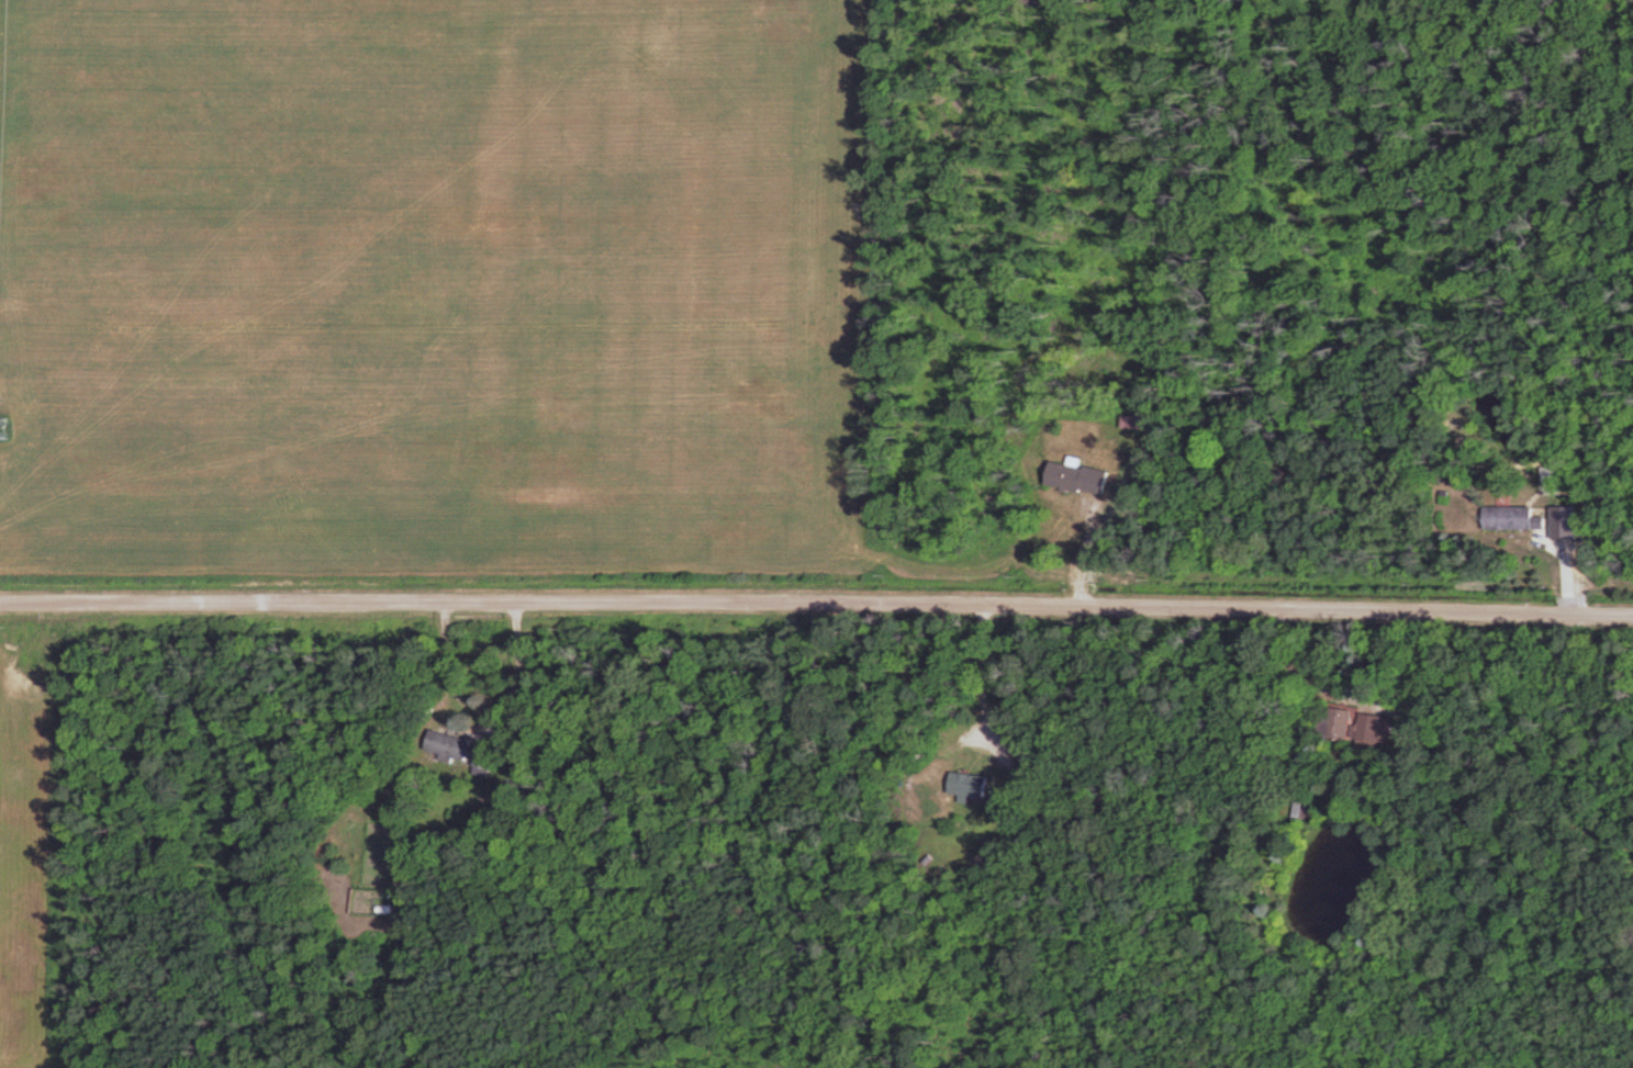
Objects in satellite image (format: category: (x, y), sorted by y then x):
power tower: (0, 430)
building: (1083, 479)
building: (1514, 517)
building: (1568, 521)
road: (816, 603)
road: (978, 671)
building: (1363, 726)
road: (471, 733)
building: (469, 751)
building: (1034, 757)
building: (973, 786)
building: (380, 900)

